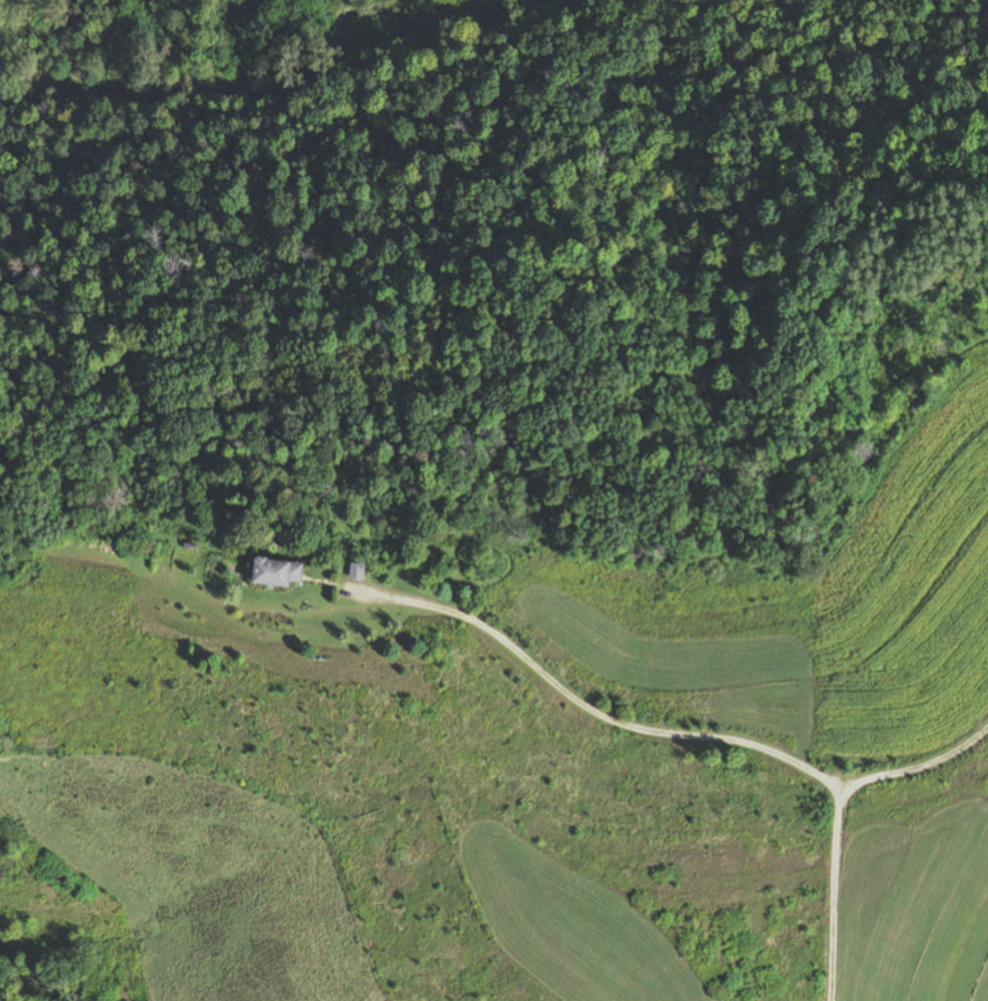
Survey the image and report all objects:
building: (274, 572)
road: (581, 706)
road: (833, 807)

